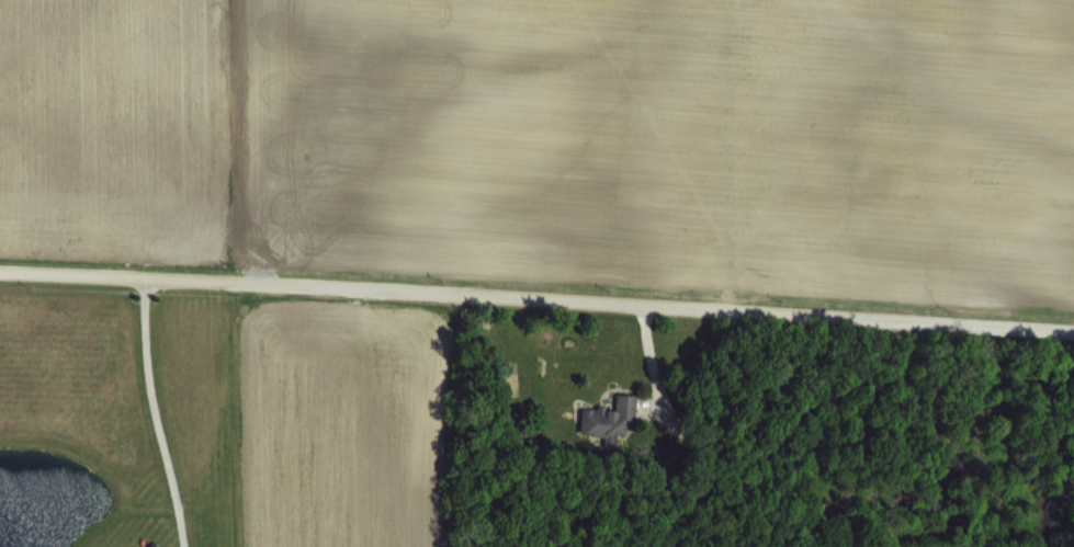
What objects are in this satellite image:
road: (536, 296)
road: (156, 414)
building: (609, 436)

